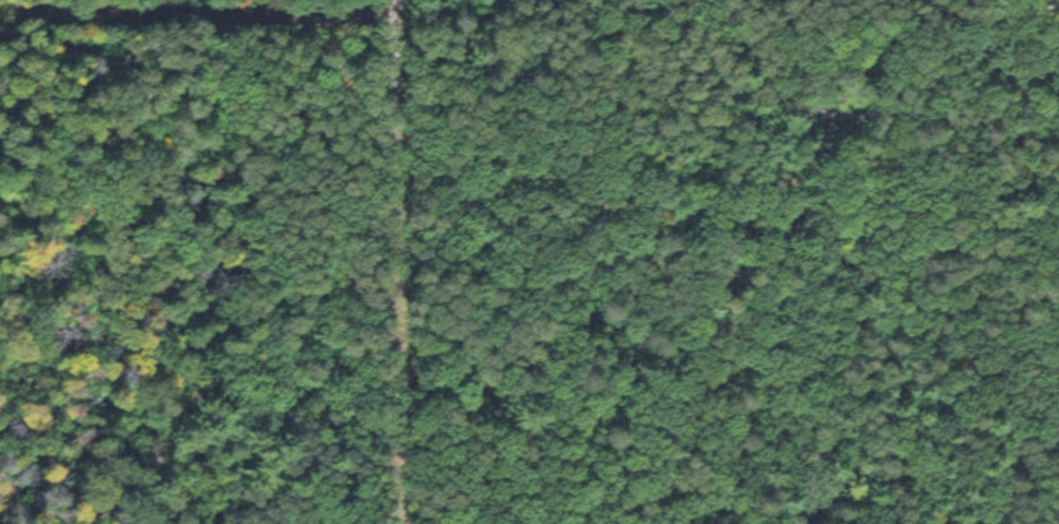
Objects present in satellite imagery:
road: (968, 12)
road: (527, 67)
road: (1031, 226)
road: (388, 284)
road: (876, 317)

